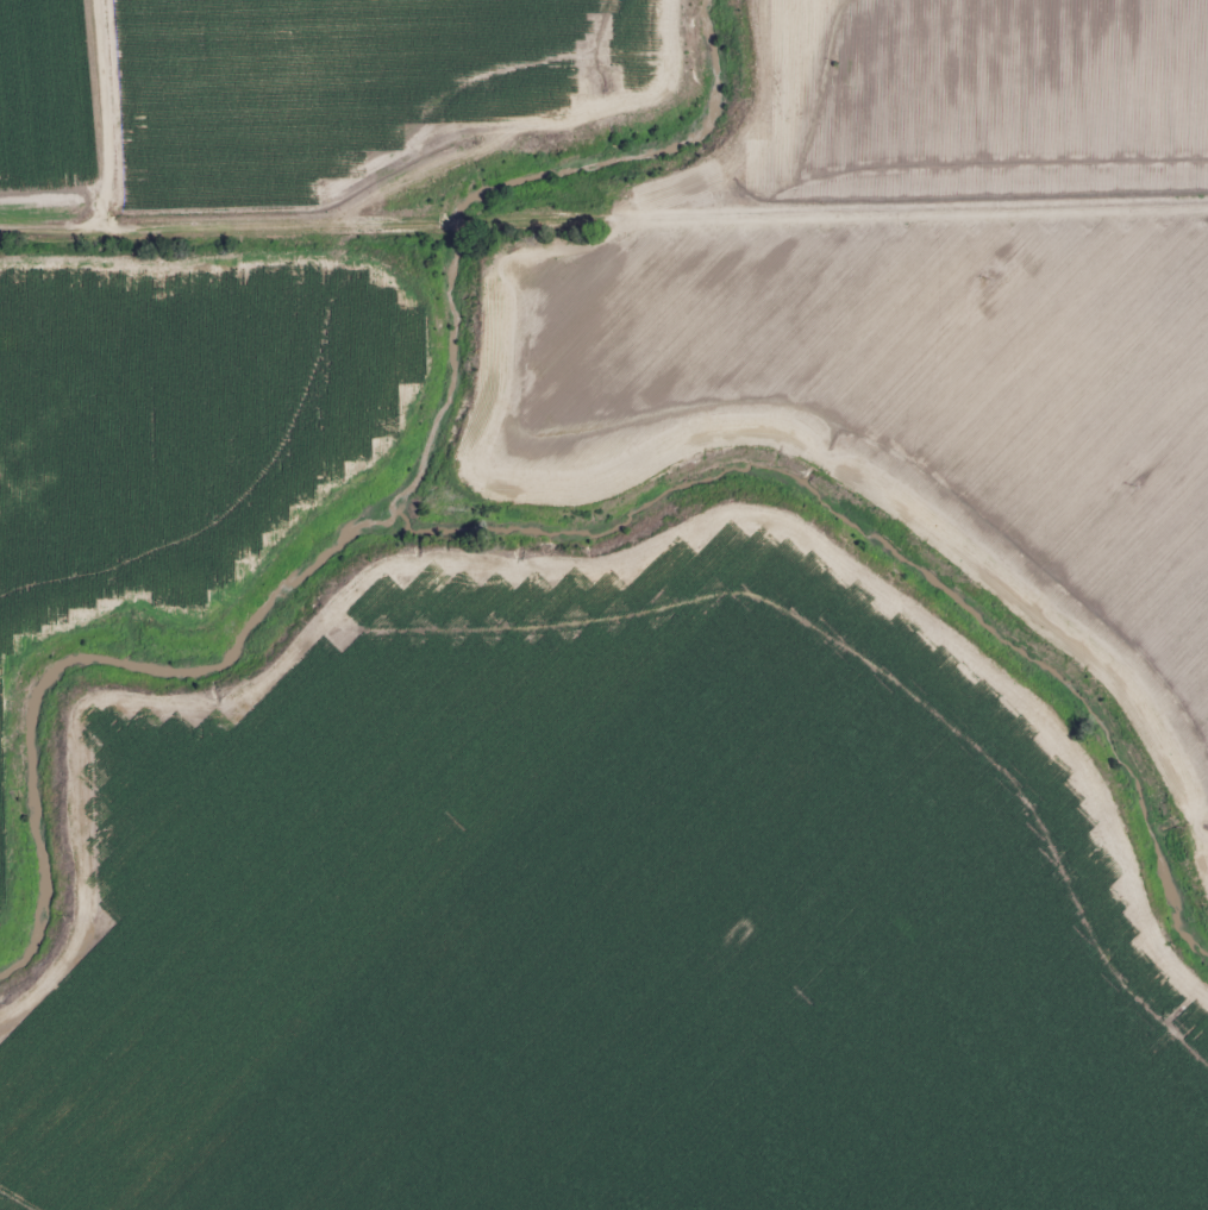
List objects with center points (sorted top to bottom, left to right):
road: (233, 219)

